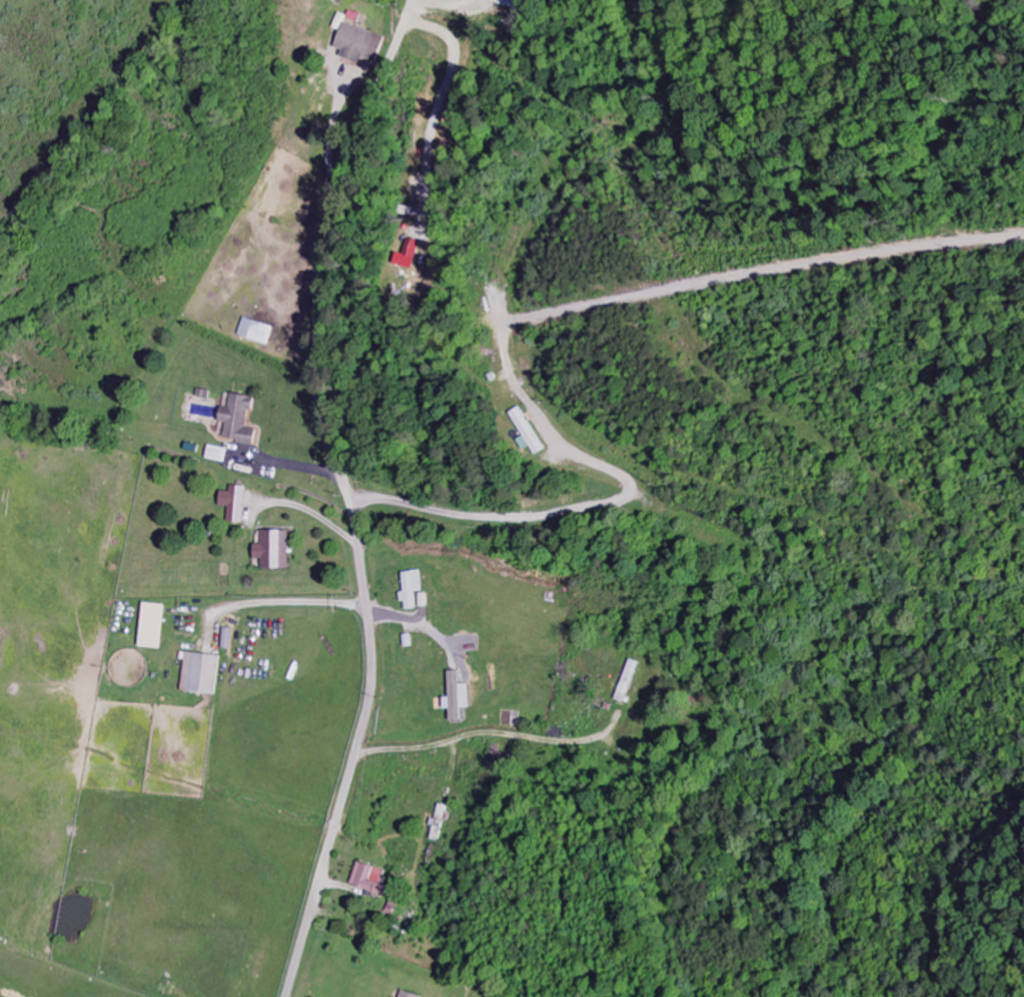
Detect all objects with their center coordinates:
building: (509, 3)
building: (360, 43)
building: (413, 254)
building: (259, 331)
building: (243, 419)
building: (531, 432)
building: (221, 454)
road: (346, 494)
building: (239, 504)
building: (279, 550)
building: (411, 589)
building: (158, 627)
building: (205, 674)
building: (627, 681)
building: (456, 699)
building: (440, 823)
building: (406, 995)

